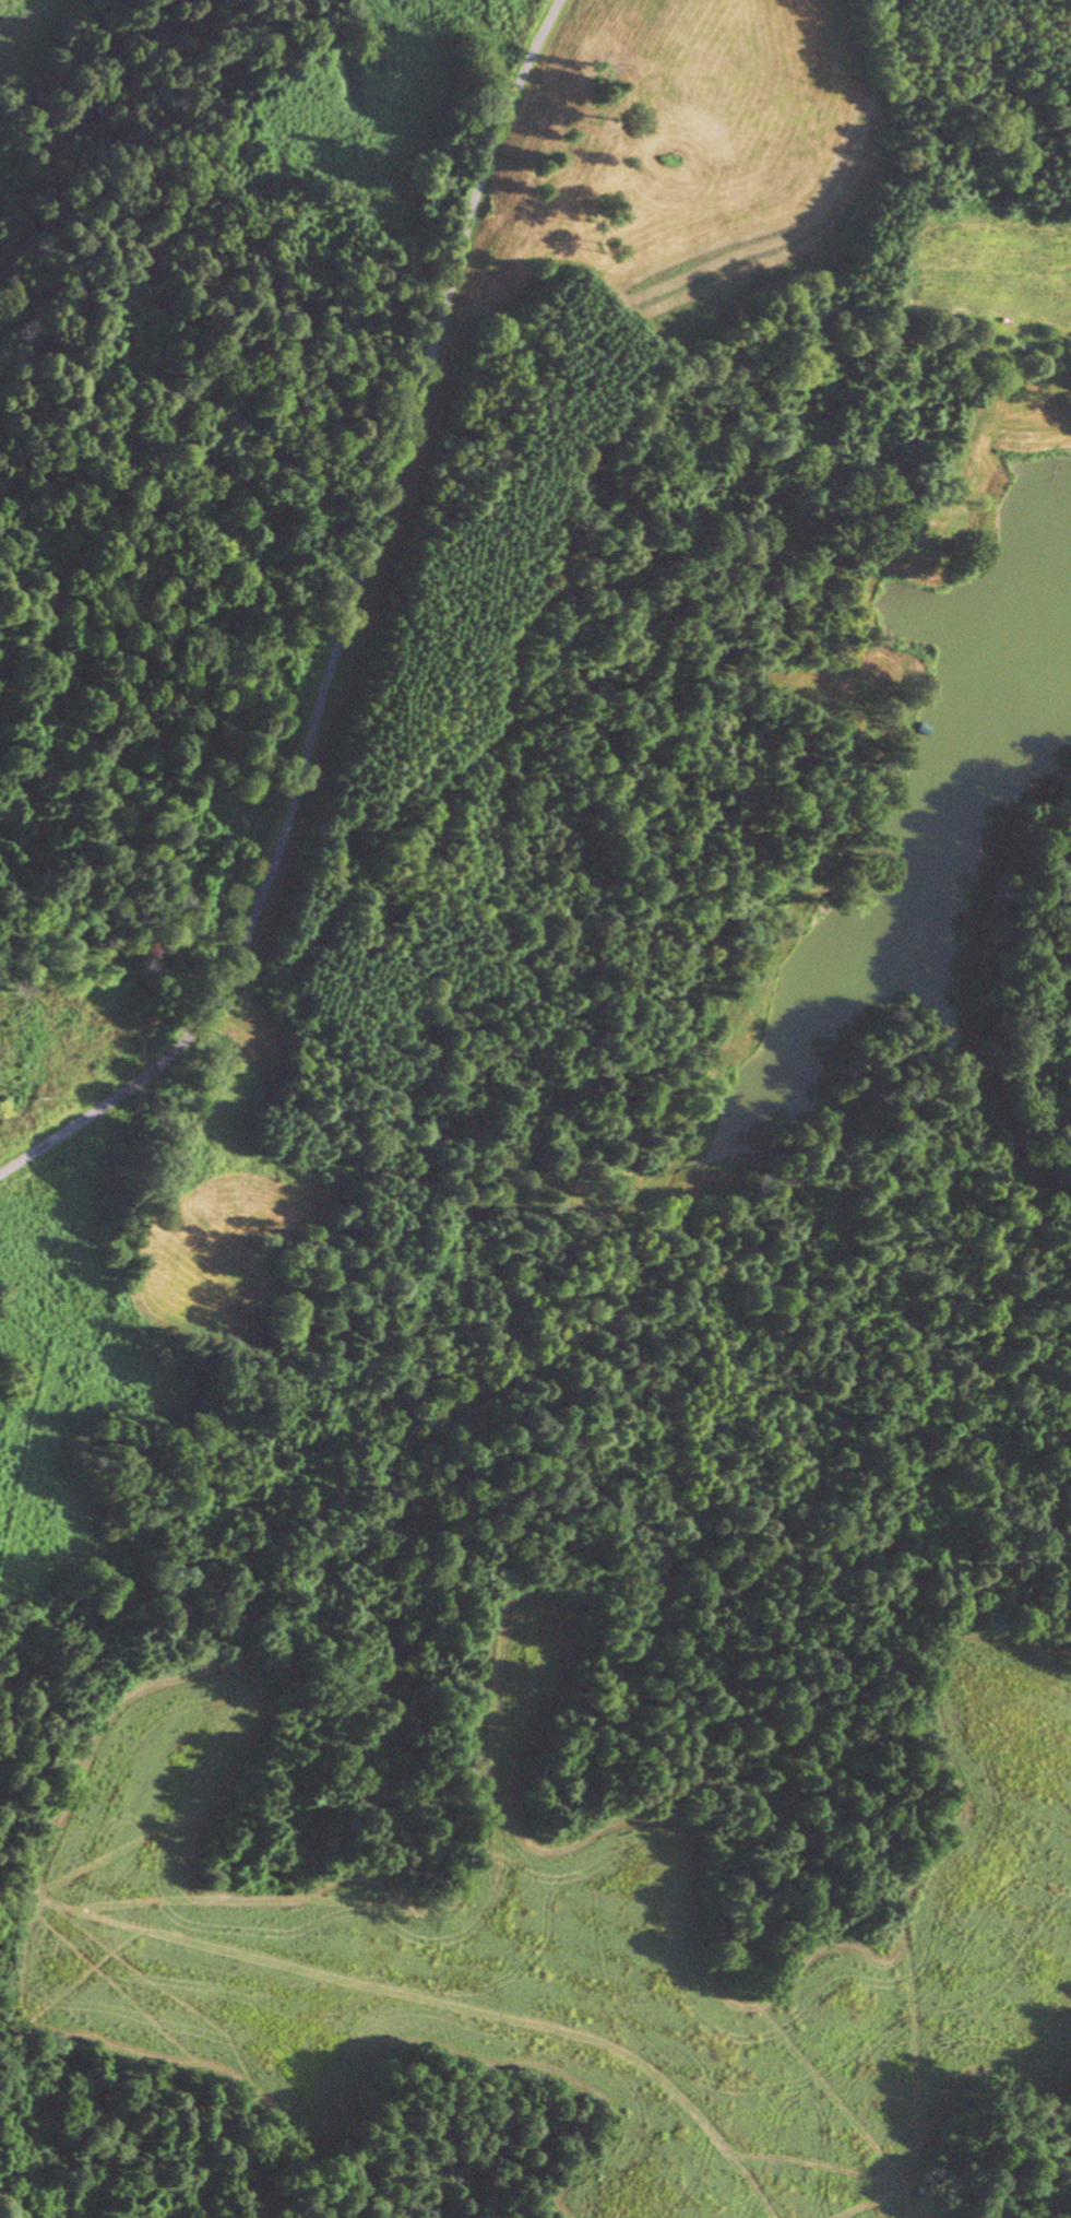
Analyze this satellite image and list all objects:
road: (345, 635)

